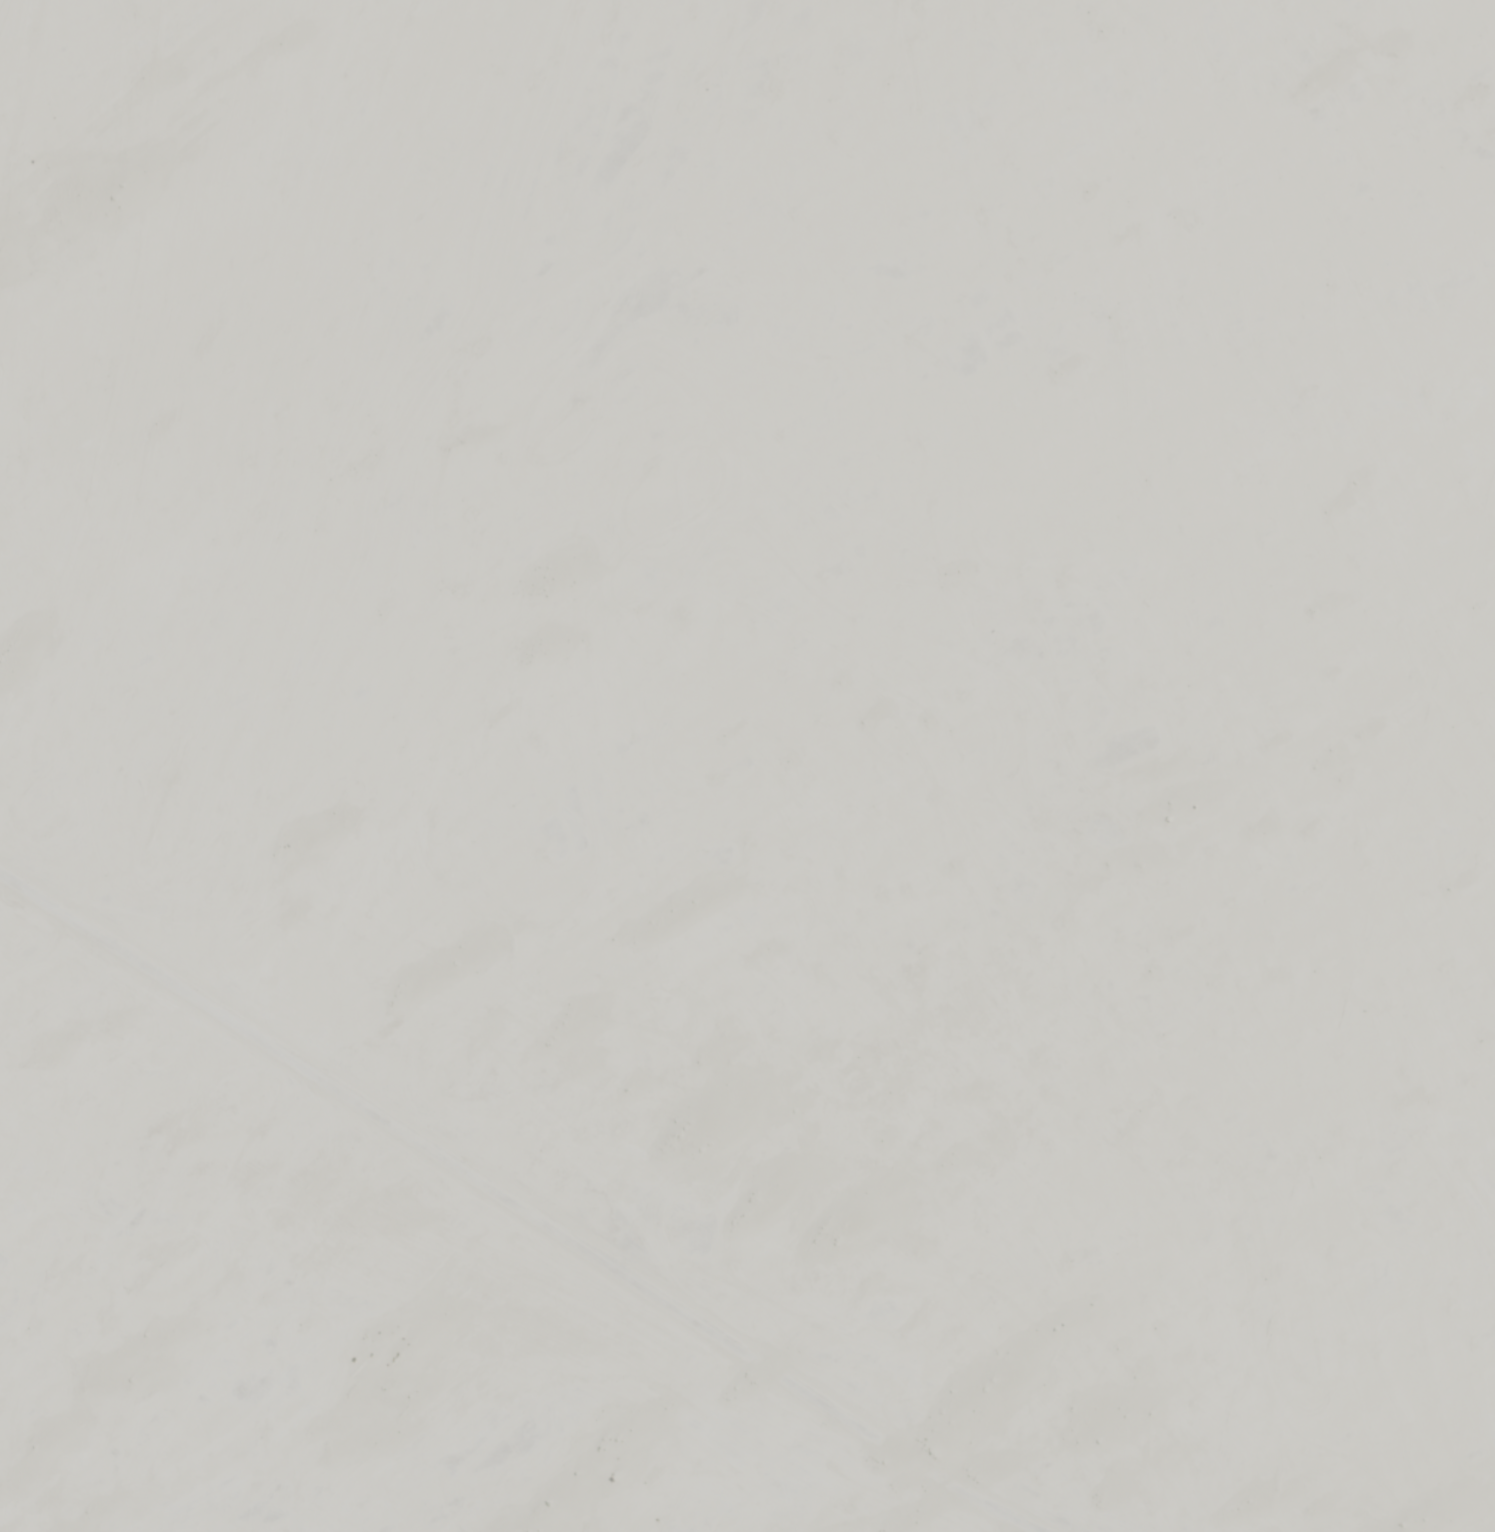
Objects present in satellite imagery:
building: (1482, 879)
building: (1236, 926)
road: (1356, 1052)
building: (1463, 1082)

